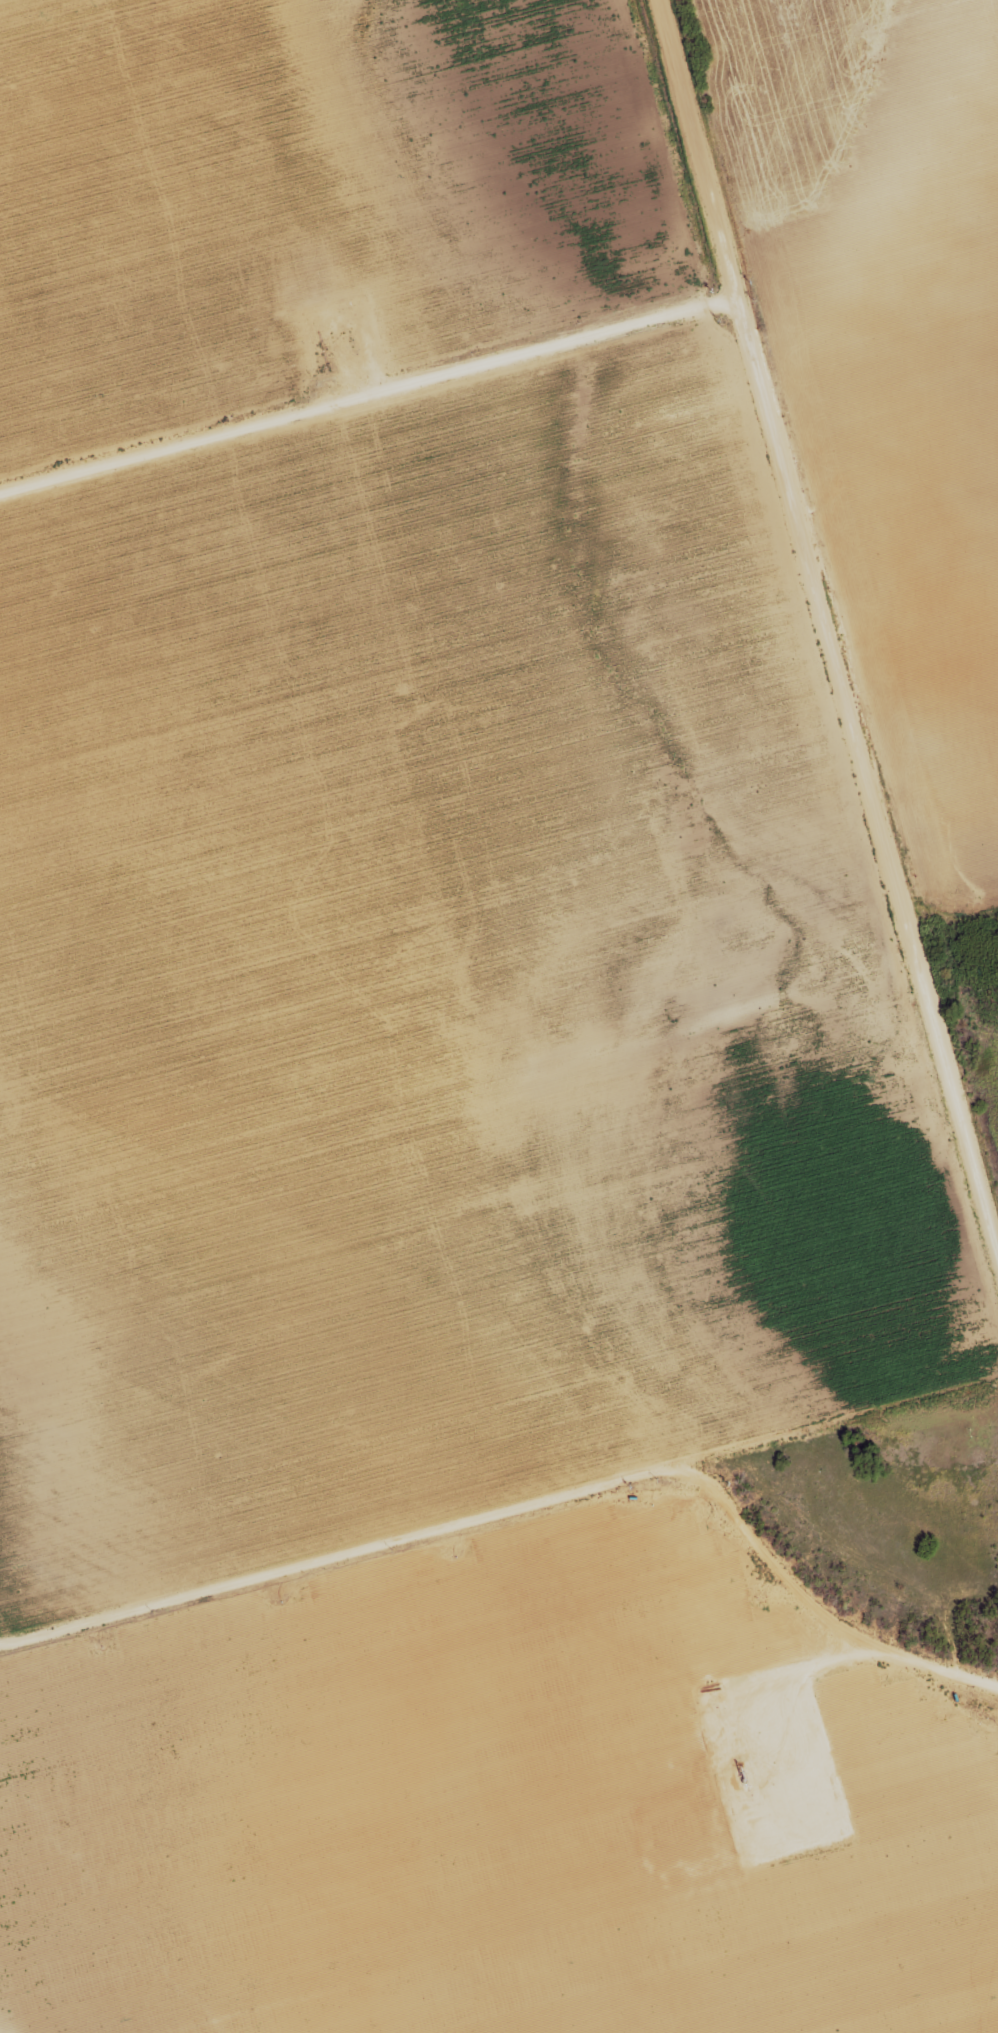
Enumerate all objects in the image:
road: (368, 391)
road: (829, 655)

